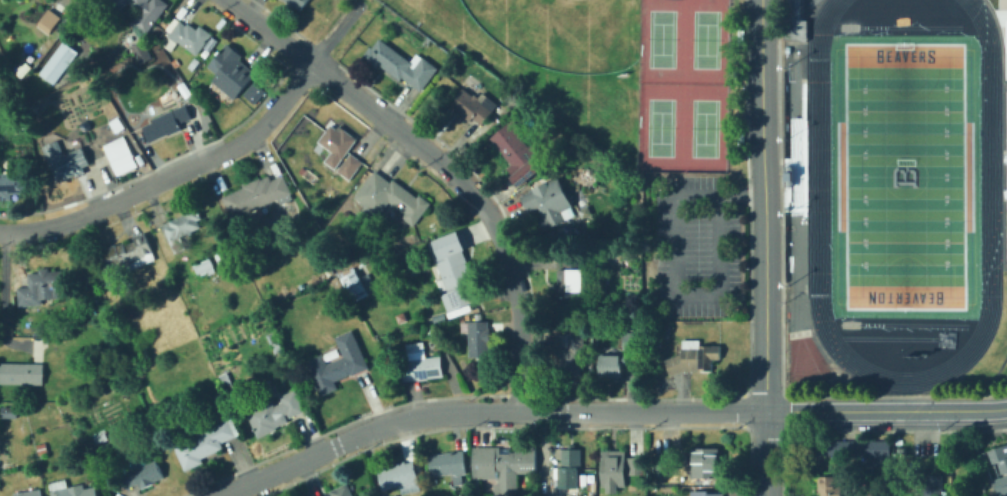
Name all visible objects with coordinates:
building: (298, 3)
road: (802, 6)
building: (185, 8)
road: (999, 11)
building: (138, 12)
building: (48, 21)
building: (792, 21)
track: (908, 26)
road: (802, 29)
road: (334, 32)
park: (560, 32)
building: (1006, 35)
building: (188, 38)
park: (660, 38)
park: (704, 38)
road: (1000, 40)
building: (44, 48)
building: (142, 52)
road: (802, 58)
building: (59, 63)
building: (177, 63)
building: (198, 64)
building: (400, 65)
building: (446, 70)
building: (231, 71)
building: (89, 82)
building: (252, 92)
building: (474, 106)
building: (82, 116)
building: (168, 117)
park: (659, 126)
park: (704, 127)
building: (337, 144)
building: (518, 155)
building: (121, 156)
building: (64, 161)
road: (443, 162)
building: (351, 167)
building: (301, 170)
road: (171, 175)
park: (903, 175)
track: (989, 176)
building: (311, 177)
stadium: (903, 180)
building: (12, 185)
building: (258, 196)
building: (393, 198)
building: (551, 203)
building: (182, 228)
parking lot: (696, 245)
road: (764, 247)
building: (130, 254)
building: (349, 256)
building: (222, 259)
building: (205, 267)
road: (675, 269)
building: (452, 270)
building: (381, 272)
building: (335, 279)
building: (164, 280)
building: (569, 282)
building: (354, 284)
building: (1006, 287)
building: (42, 288)
road: (3, 291)
building: (344, 294)
building: (411, 315)
building: (386, 322)
building: (374, 323)
track: (911, 325)
building: (667, 332)
park: (797, 333)
track: (888, 337)
building: (478, 338)
park: (944, 338)
building: (385, 339)
building: (275, 341)
building: (655, 341)
building: (633, 342)
building: (569, 356)
building: (694, 358)
building: (284, 359)
building: (339, 364)
building: (420, 364)
building: (612, 365)
track: (996, 370)
building: (22, 374)
building: (226, 375)
building: (221, 399)
road: (886, 408)
building: (10, 412)
building: (275, 412)
road: (483, 412)
building: (99, 439)
building: (207, 442)
building: (43, 449)
building: (859, 451)
building: (1000, 457)
building: (706, 463)
building: (448, 464)
building: (661, 465)
building: (636, 466)
building: (501, 467)
building: (569, 467)
building: (614, 470)
building: (141, 474)
building: (400, 478)
building: (932, 485)
building: (829, 486)
building: (1001, 486)
building: (72, 490)
building: (340, 491)
building: (30, 493)
building: (706, 493)

